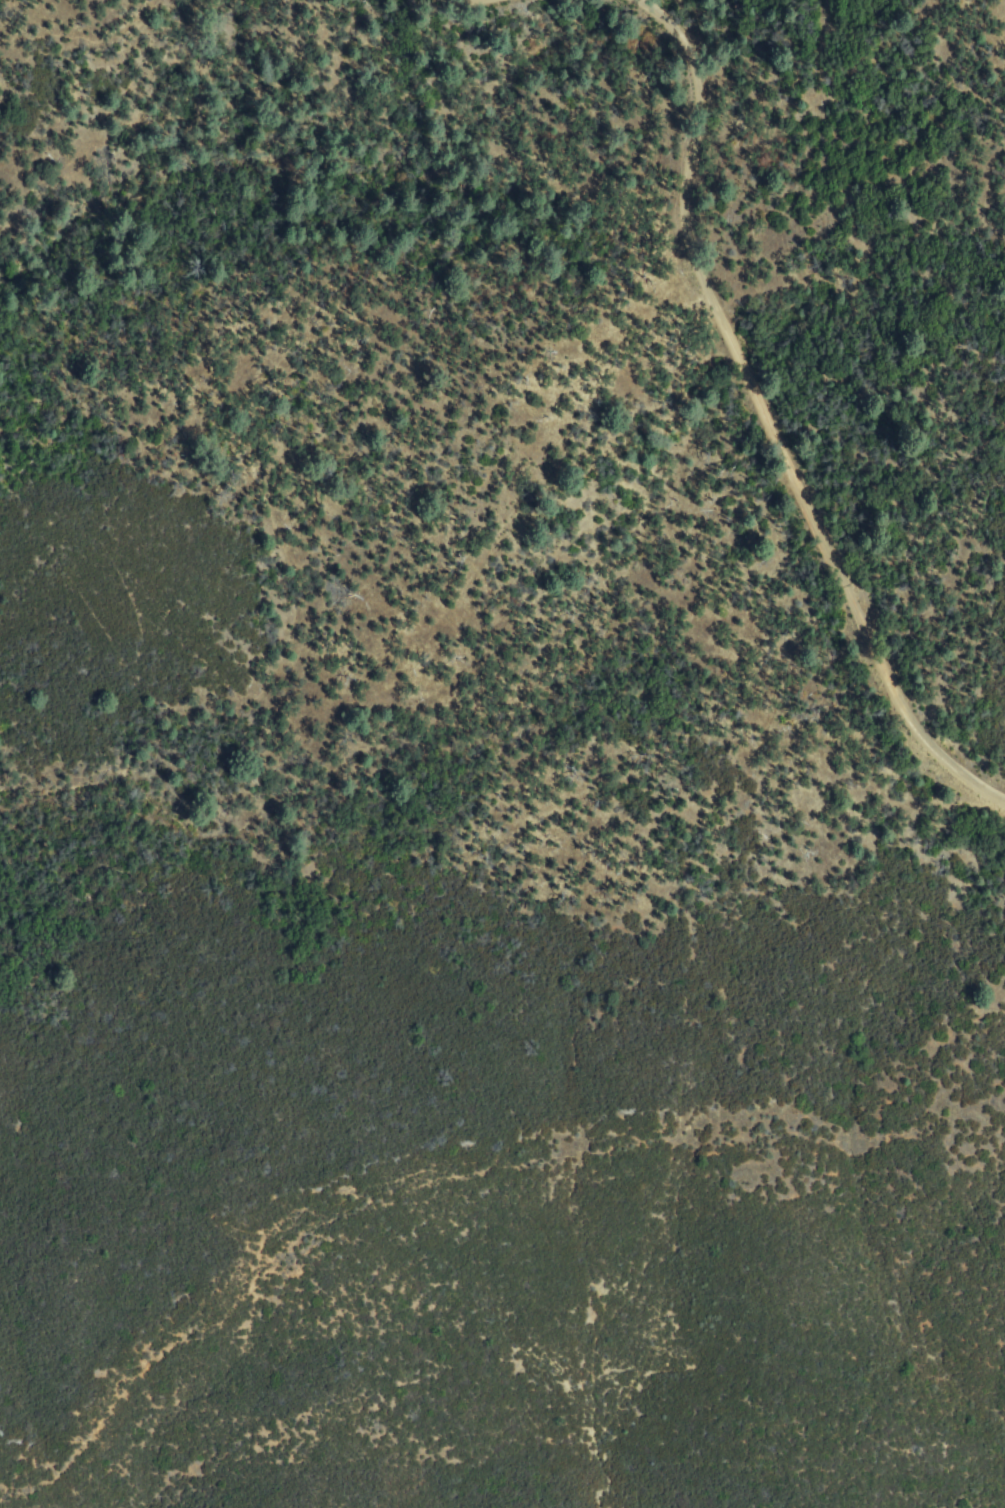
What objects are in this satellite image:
road: (458, 0)
road: (764, 420)

